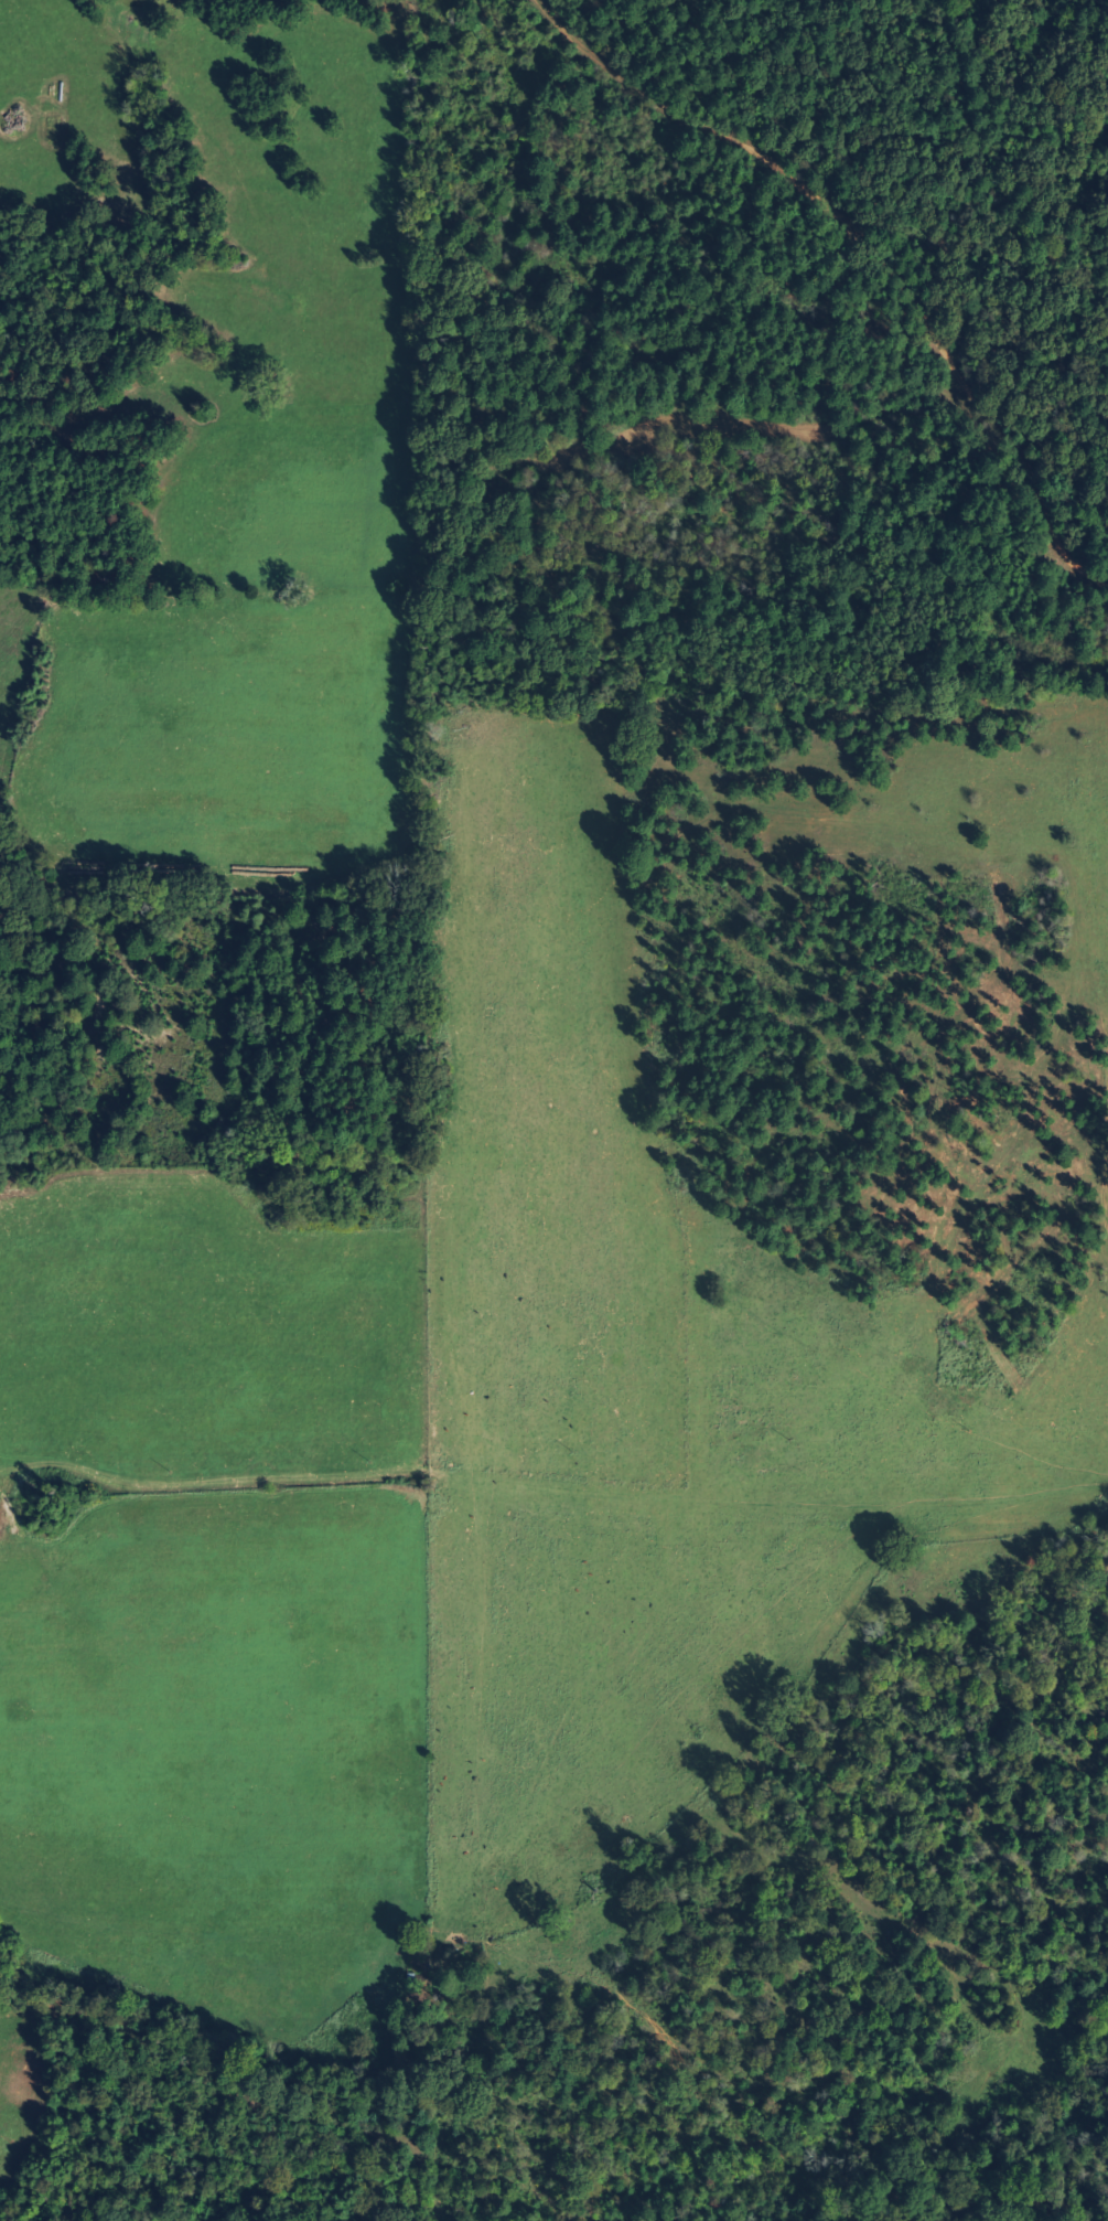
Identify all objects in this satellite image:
road: (891, 279)
road: (450, 994)

